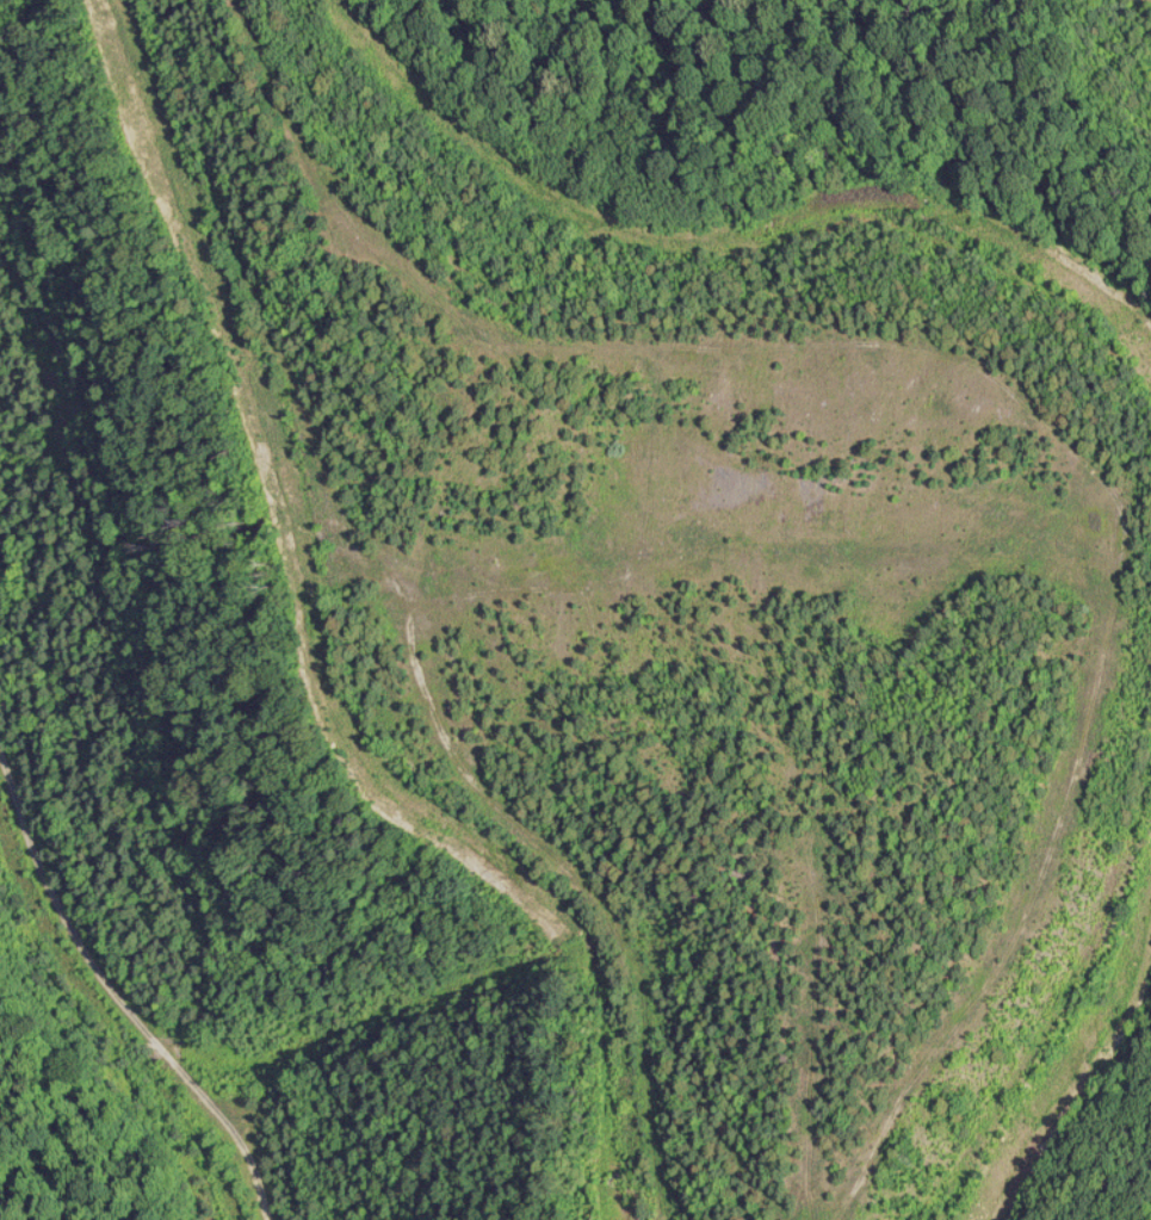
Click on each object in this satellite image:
quarry: (575, 609)

